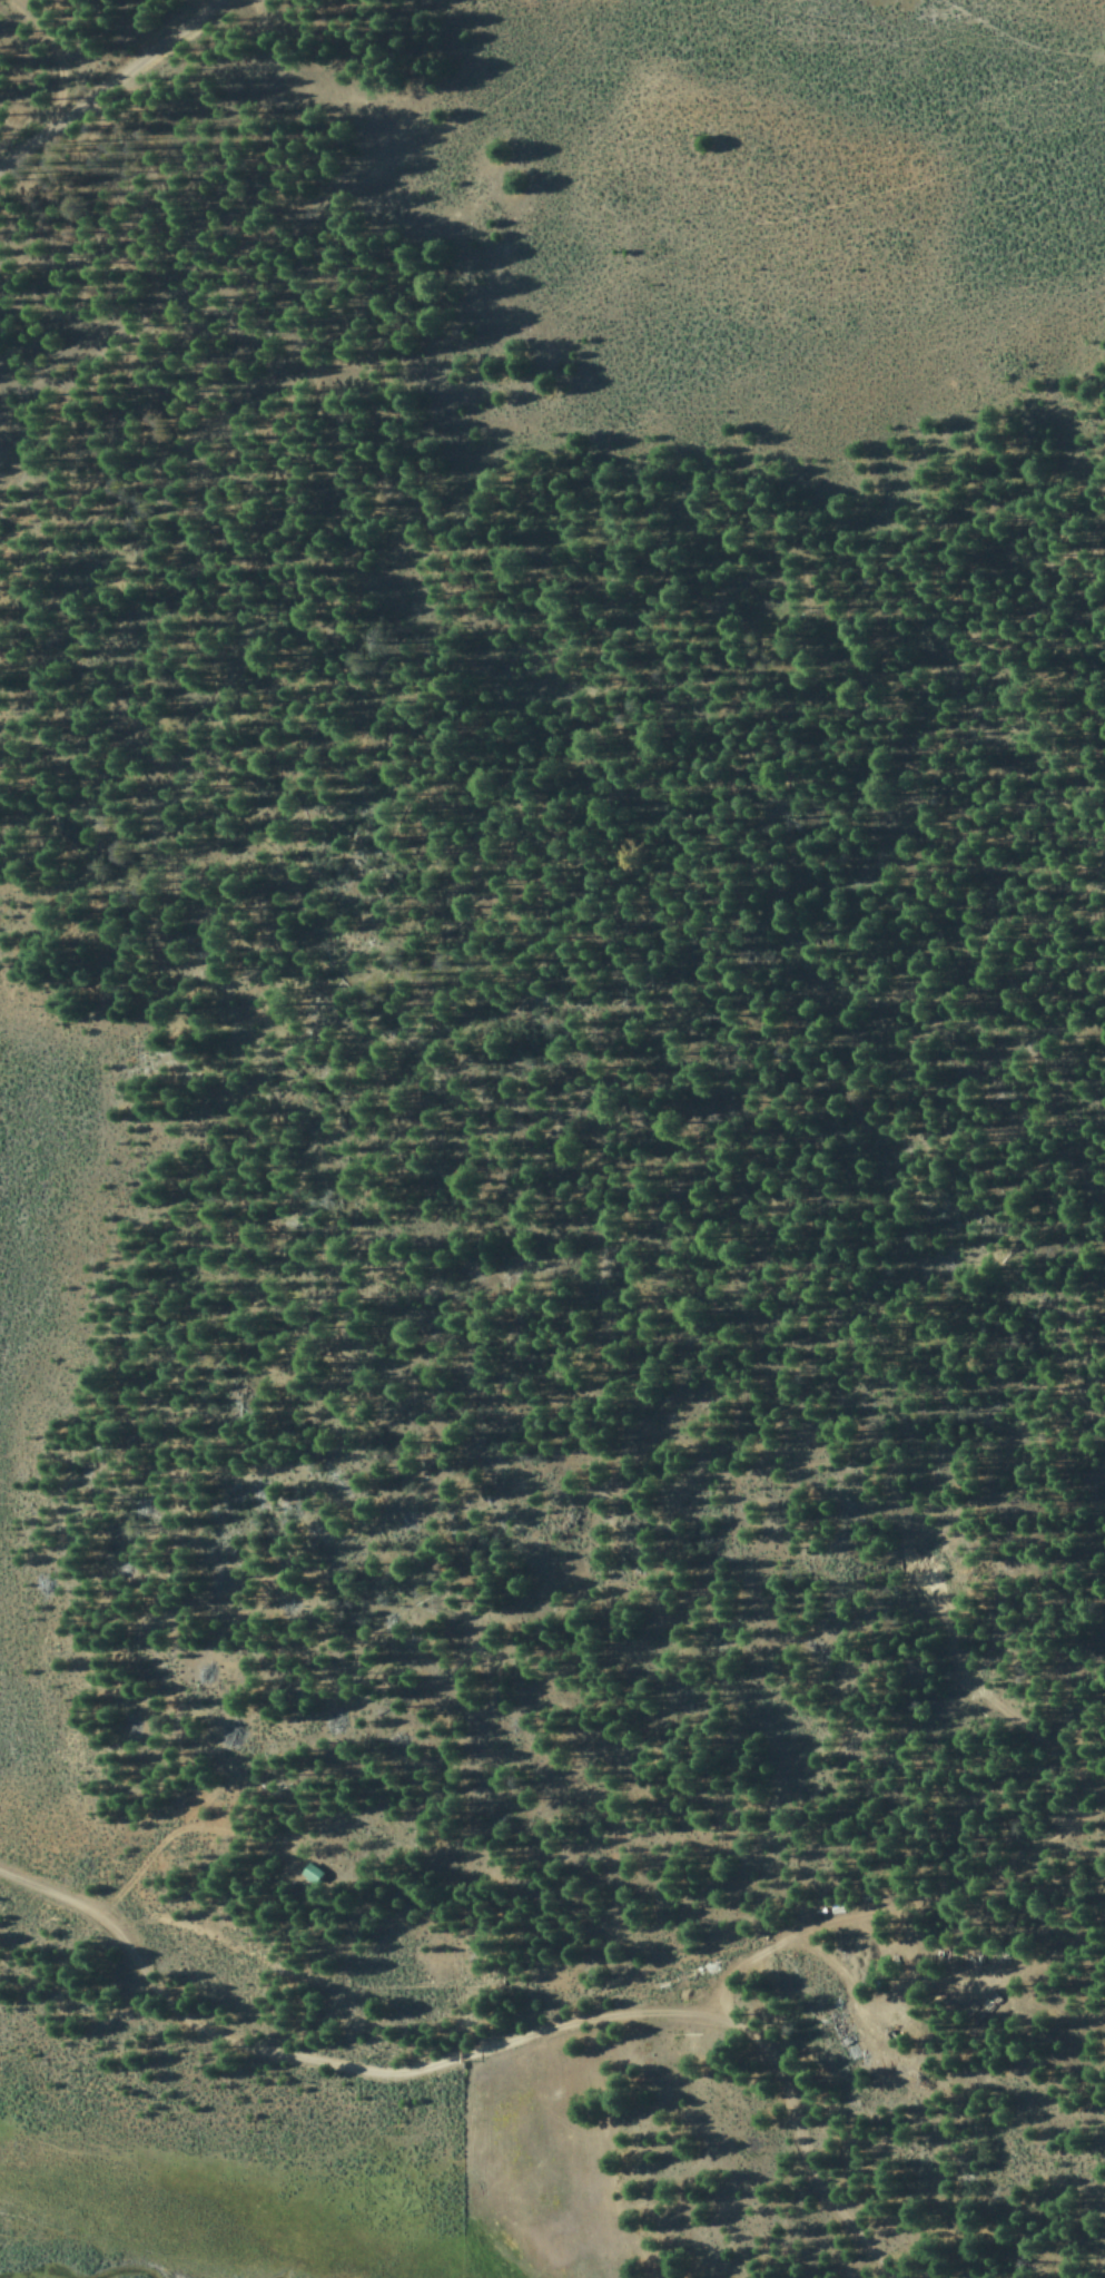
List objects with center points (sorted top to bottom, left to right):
road: (1063, 9)
road: (89, 84)
building: (314, 1874)
road: (77, 2239)

